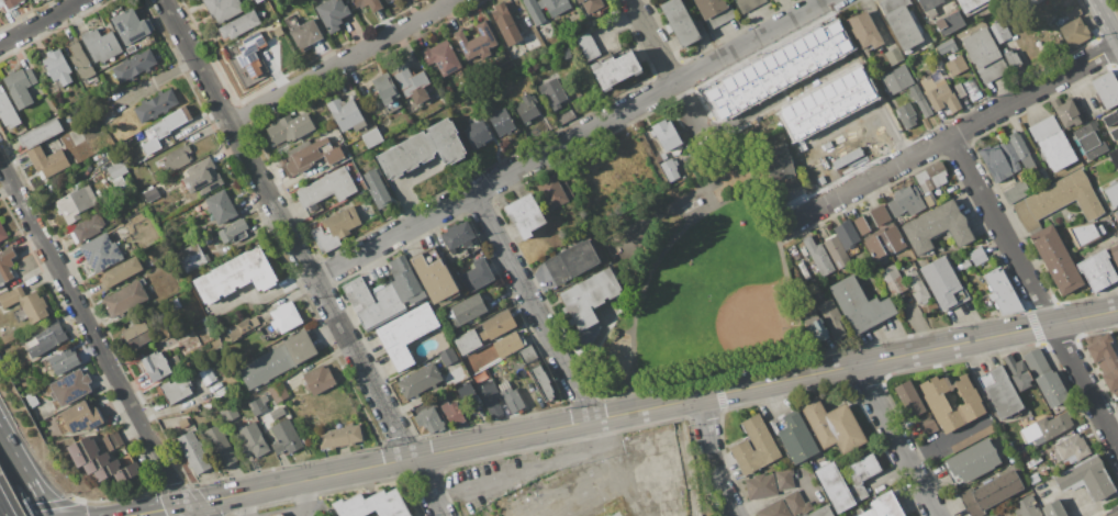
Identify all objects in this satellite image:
building: (258, 1)
road: (630, 2)
building: (591, 3)
building: (1028, 3)
building: (10, 4)
building: (368, 4)
building: (748, 4)
building: (929, 5)
building: (972, 5)
building: (223, 9)
building: (715, 11)
building: (536, 13)
building: (333, 14)
road: (1108, 16)
road: (41, 22)
building: (680, 22)
building: (950, 23)
building: (239, 24)
building: (505, 24)
building: (905, 25)
building: (132, 26)
building: (1074, 29)
building: (864, 30)
building: (277, 31)
building: (999, 31)
building: (303, 32)
building: (266, 35)
building: (476, 41)
building: (101, 45)
building: (586, 45)
building: (947, 47)
building: (131, 48)
road: (853, 51)
building: (249, 54)
road: (854, 55)
building: (894, 55)
building: (984, 55)
building: (441, 56)
building: (1013, 59)
building: (80, 61)
road: (340, 61)
building: (136, 64)
building: (955, 65)
building: (57, 67)
road: (666, 67)
building: (776, 69)
building: (615, 70)
building: (896, 80)
building: (411, 81)
building: (21, 86)
building: (53, 88)
building: (385, 88)
building: (960, 89)
building: (1106, 89)
building: (552, 92)
building: (939, 93)
building: (975, 96)
road: (778, 97)
building: (919, 100)
road: (216, 101)
building: (826, 103)
building: (156, 105)
building: (526, 109)
road: (864, 109)
building: (7, 111)
building: (905, 111)
building: (1065, 112)
building: (346, 113)
building: (564, 115)
building: (1110, 117)
building: (171, 122)
building: (501, 122)
building: (290, 127)
building: (42, 133)
building: (1114, 133)
building: (478, 134)
building: (666, 134)
road: (952, 134)
building: (372, 137)
road: (747, 137)
road: (570, 139)
building: (1089, 141)
building: (1051, 143)
building: (150, 146)
road: (795, 146)
building: (845, 147)
building: (423, 149)
road: (796, 152)
building: (1021, 152)
building: (311, 155)
building: (1114, 156)
building: (660, 157)
building: (177, 158)
building: (1000, 160)
building: (47, 161)
building: (779, 161)
road: (712, 166)
building: (670, 168)
building: (116, 169)
building: (1042, 175)
building: (203, 177)
building: (931, 177)
building: (119, 183)
building: (728, 184)
building: (376, 188)
building: (326, 189)
building: (552, 191)
building: (1016, 191)
building: (1113, 192)
building: (152, 193)
building: (1059, 200)
building: (929, 201)
building: (76, 202)
building: (905, 202)
road: (720, 204)
building: (221, 207)
road: (666, 210)
building: (1116, 212)
road: (682, 214)
building: (525, 215)
building: (880, 215)
building: (861, 225)
road: (781, 226)
building: (936, 227)
building: (87, 228)
building: (232, 229)
building: (334, 229)
building: (2, 232)
building: (458, 235)
building: (1083, 236)
building: (884, 243)
building: (842, 244)
building: (100, 253)
building: (1115, 254)
building: (979, 256)
building: (191, 257)
building: (817, 257)
building: (1056, 260)
building: (571, 261)
building: (7, 263)
building: (965, 263)
building: (804, 269)
building: (1097, 270)
building: (121, 271)
building: (434, 274)
building: (540, 274)
building: (236, 276)
building: (477, 276)
park: (701, 277)
building: (893, 279)
building: (943, 283)
building: (916, 285)
park: (718, 291)
building: (1000, 291)
road: (1033, 292)
building: (387, 293)
building: (590, 296)
building: (125, 298)
building: (25, 304)
building: (860, 305)
road: (532, 306)
building: (468, 310)
building: (284, 317)
building: (834, 321)
building: (208, 325)
building: (497, 325)
building: (243, 326)
building: (814, 326)
road: (90, 334)
building: (137, 334)
building: (406, 334)
building: (9, 337)
building: (48, 338)
building: (583, 338)
building: (467, 341)
building: (507, 344)
building: (300, 347)
building: (527, 354)
building: (448, 356)
road: (356, 359)
building: (64, 360)
building: (1104, 360)
building: (159, 366)
building: (266, 366)
building: (1018, 371)
building: (1046, 377)
building: (318, 379)
building: (418, 381)
building: (543, 381)
road: (764, 383)
building: (70, 386)
building: (175, 389)
building: (278, 391)
building: (1000, 392)
building: (468, 395)
building: (491, 397)
building: (511, 397)
building: (31, 399)
building: (909, 399)
building: (936, 401)
building: (258, 406)
building: (231, 413)
building: (451, 413)
building: (81, 417)
building: (425, 417)
building: (313, 418)
building: (832, 426)
building: (928, 426)
building: (1047, 427)
building: (794, 435)
building: (340, 437)
building: (284, 438)
building: (973, 438)
building: (113, 440)
building: (255, 440)
road: (894, 440)
building: (754, 445)
building: (220, 446)
building: (1071, 449)
building: (82, 451)
building: (193, 452)
road: (712, 458)
building: (976, 458)
building: (1011, 458)
building: (97, 462)
building: (85, 464)
road: (27, 468)
road: (528, 468)
building: (108, 470)
parking lot: (518, 470)
building: (127, 472)
building: (1044, 473)
road: (325, 474)
building: (1087, 479)
building: (831, 482)
building: (769, 483)
building: (1038, 487)
building: (990, 493)
road: (303, 498)
road: (318, 498)
road: (211, 500)
road: (243, 504)
traffic signals: (181, 505)
building: (372, 505)
building: (786, 506)
building: (884, 506)
building: (1025, 507)
gas station: (295, 508)
building: (1052, 508)
road: (157, 509)
road: (185, 511)
building: (821, 512)
building: (1114, 512)
road: (156, 513)
building: (275, 514)
road: (293, 514)
road: (131, 515)
road: (134, 515)
building: (993, 515)

